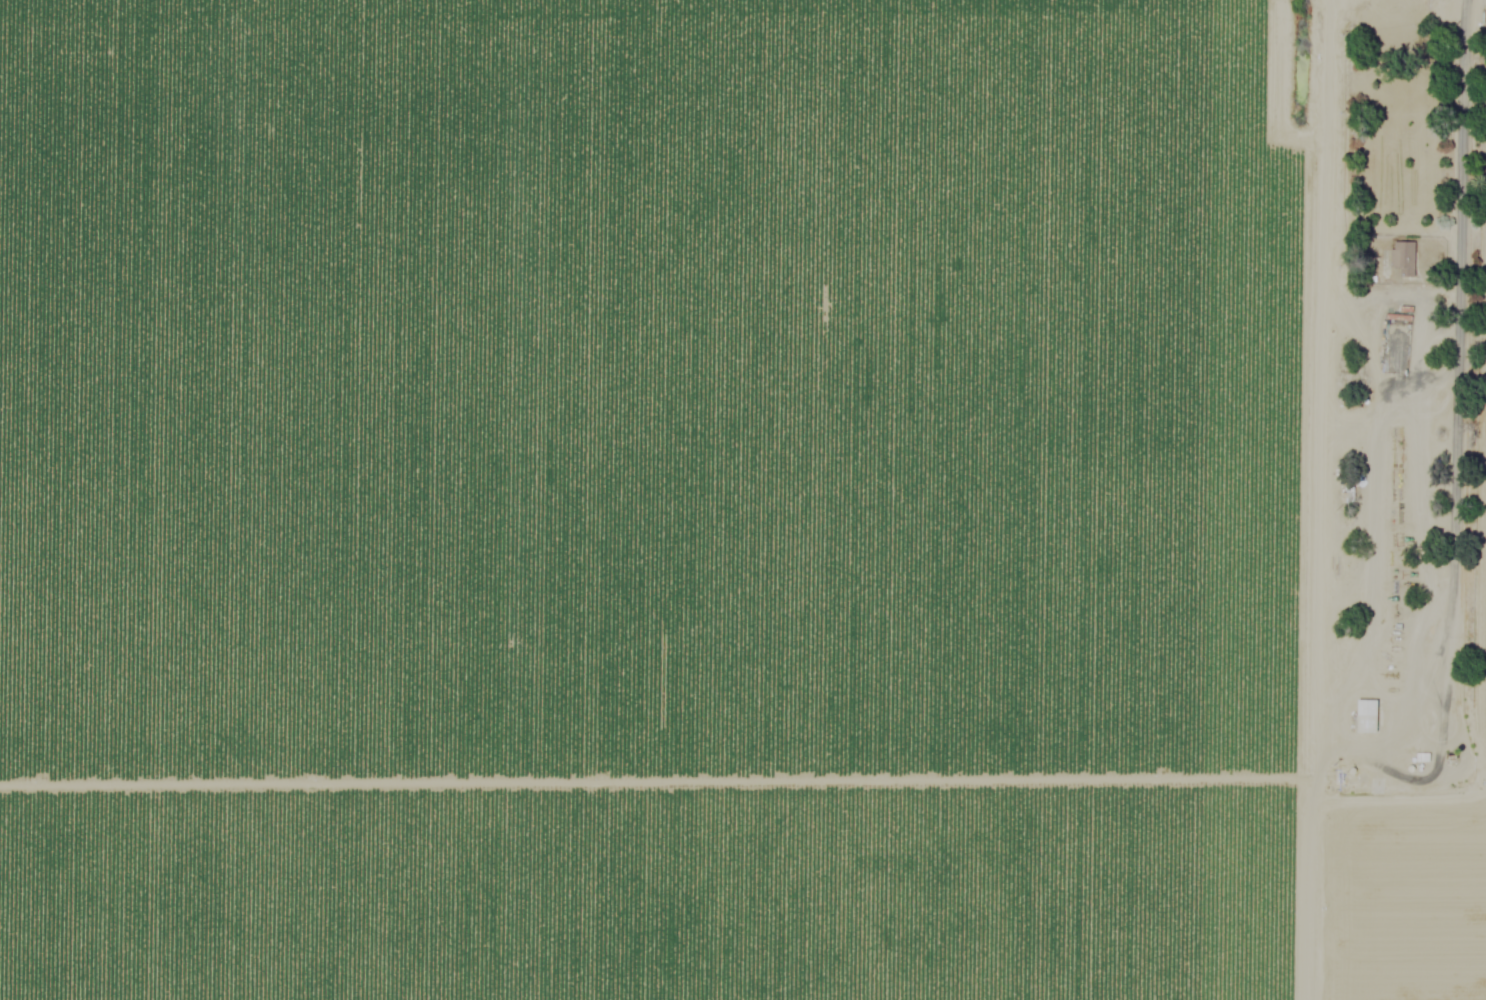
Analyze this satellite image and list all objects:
crop: (1479, 403)
road: (1473, 467)
road: (1318, 499)
crop: (660, 500)
crop: (1399, 892)

